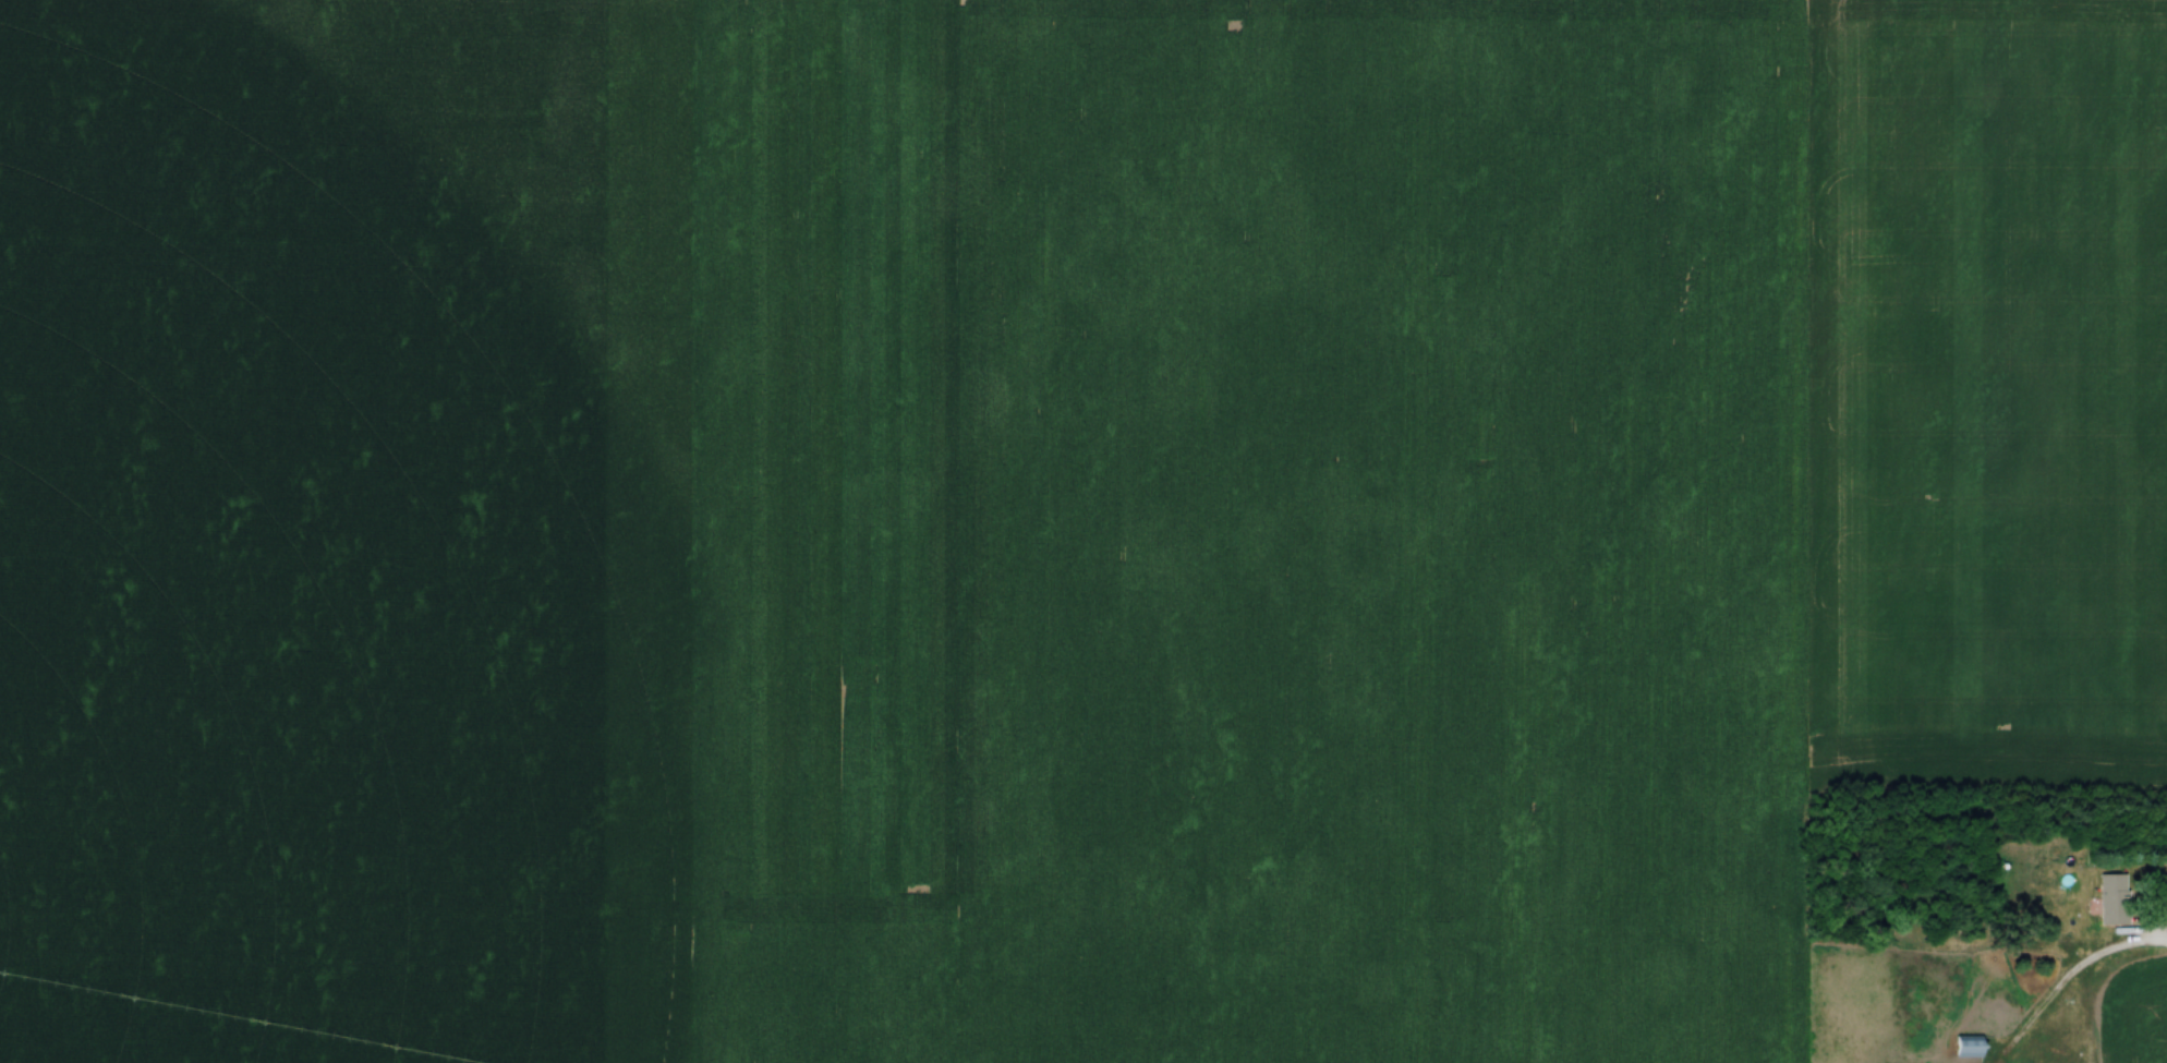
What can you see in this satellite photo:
building: (2117, 901)
building: (1974, 1047)

